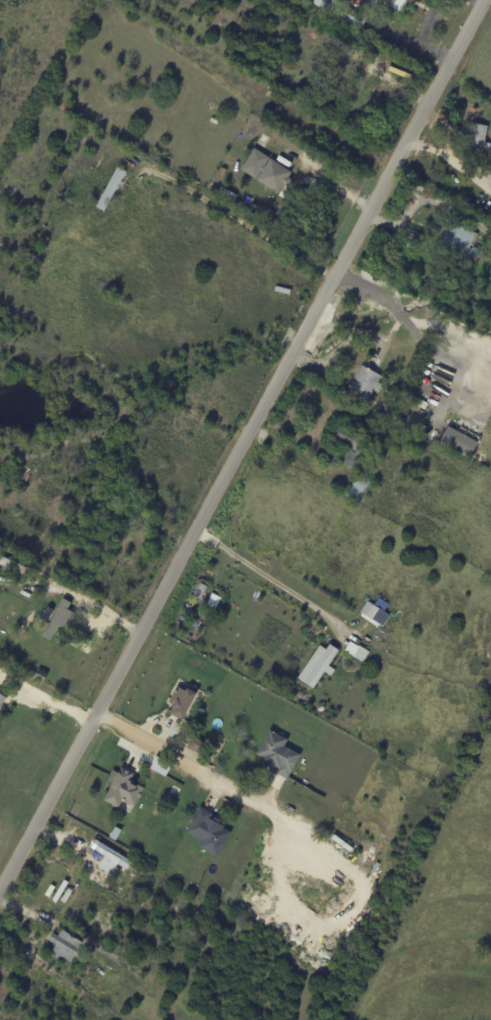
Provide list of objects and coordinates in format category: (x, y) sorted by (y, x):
building: (358, 3)
building: (396, 4)
building: (346, 12)
building: (363, 64)
road: (233, 84)
building: (356, 89)
building: (478, 139)
building: (273, 176)
building: (111, 189)
building: (229, 196)
building: (256, 210)
building: (460, 243)
building: (488, 257)
building: (26, 267)
road: (418, 319)
building: (482, 321)
building: (483, 331)
road: (343, 343)
building: (366, 384)
building: (417, 403)
building: (398, 411)
building: (417, 424)
building: (457, 442)
road: (241, 446)
building: (349, 446)
building: (21, 478)
building: (360, 490)
building: (12, 567)
building: (221, 590)
building: (200, 592)
building: (214, 602)
building: (374, 612)
road: (342, 613)
building: (53, 625)
building: (181, 632)
building: (357, 653)
building: (318, 666)
building: (41, 677)
building: (301, 696)
building: (183, 701)
building: (2, 702)
building: (278, 754)
road: (177, 763)
building: (124, 789)
building: (209, 832)
building: (118, 833)
building: (110, 855)
building: (123, 932)
building: (67, 947)

